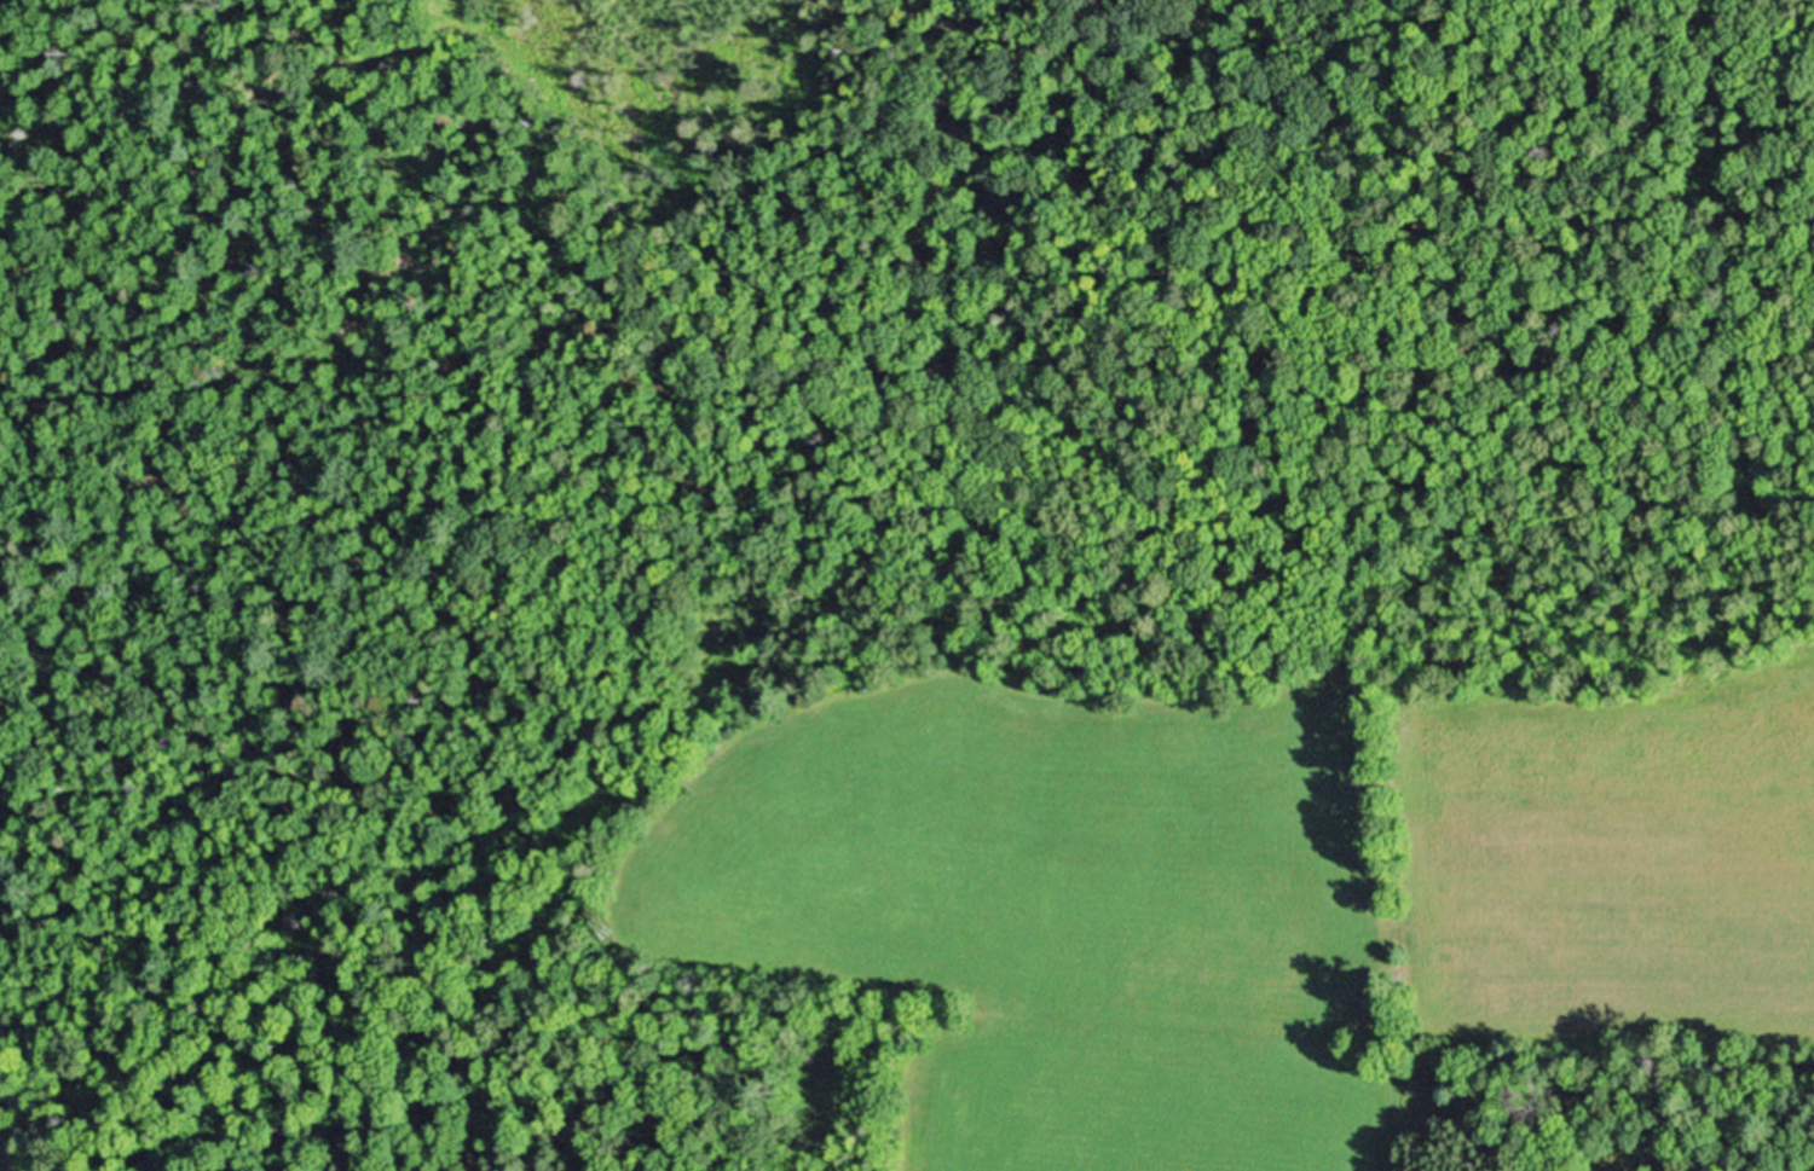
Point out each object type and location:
road: (11, 1120)

